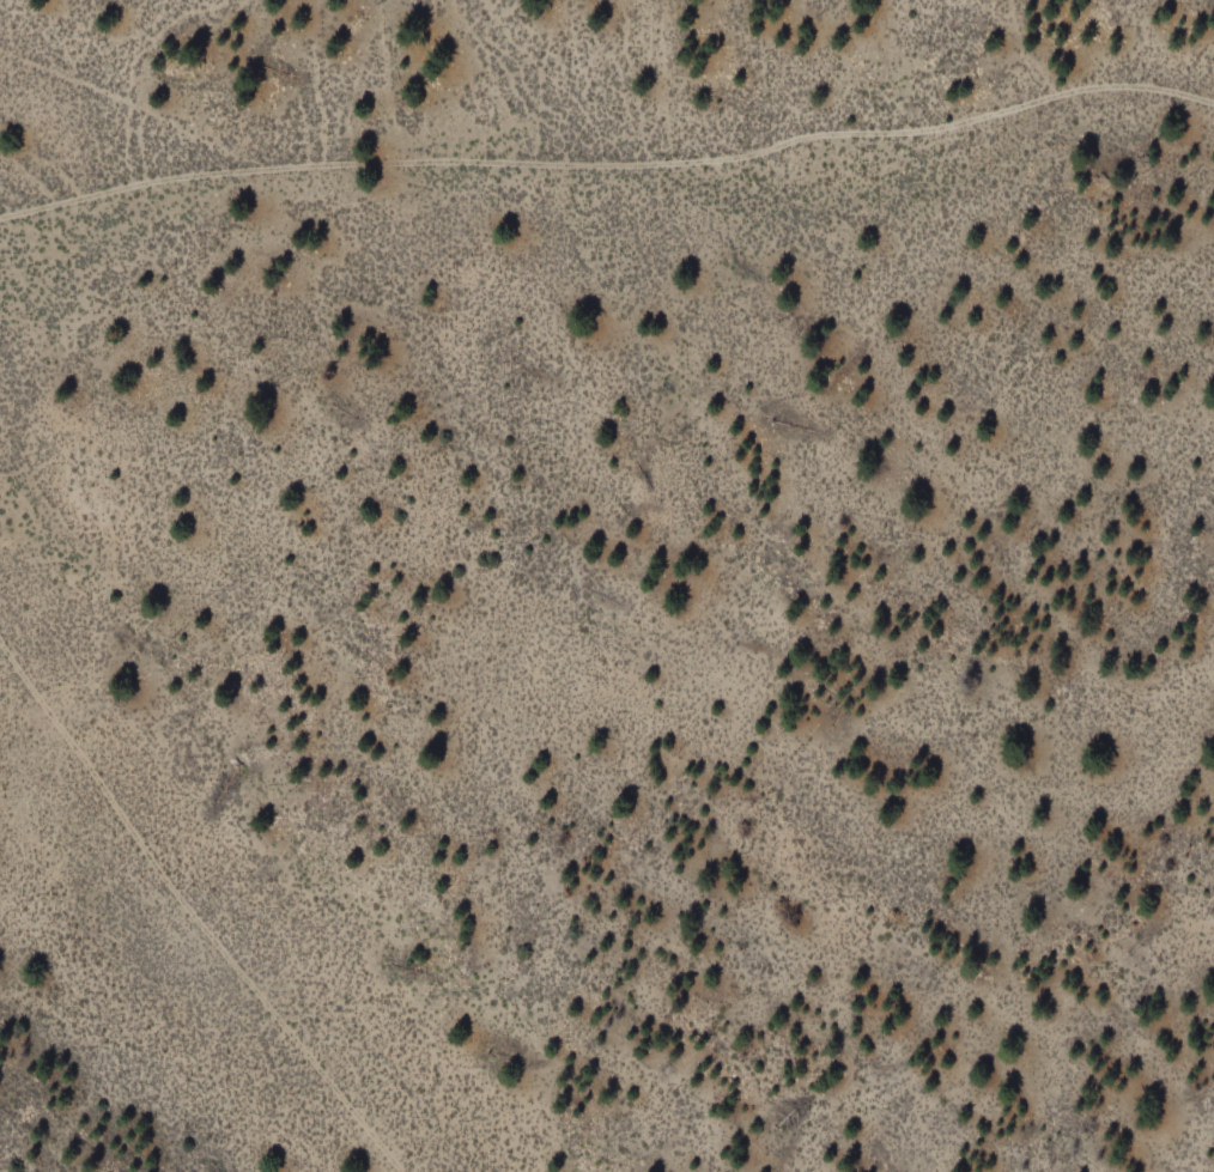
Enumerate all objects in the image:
road: (609, 171)
road: (188, 912)

